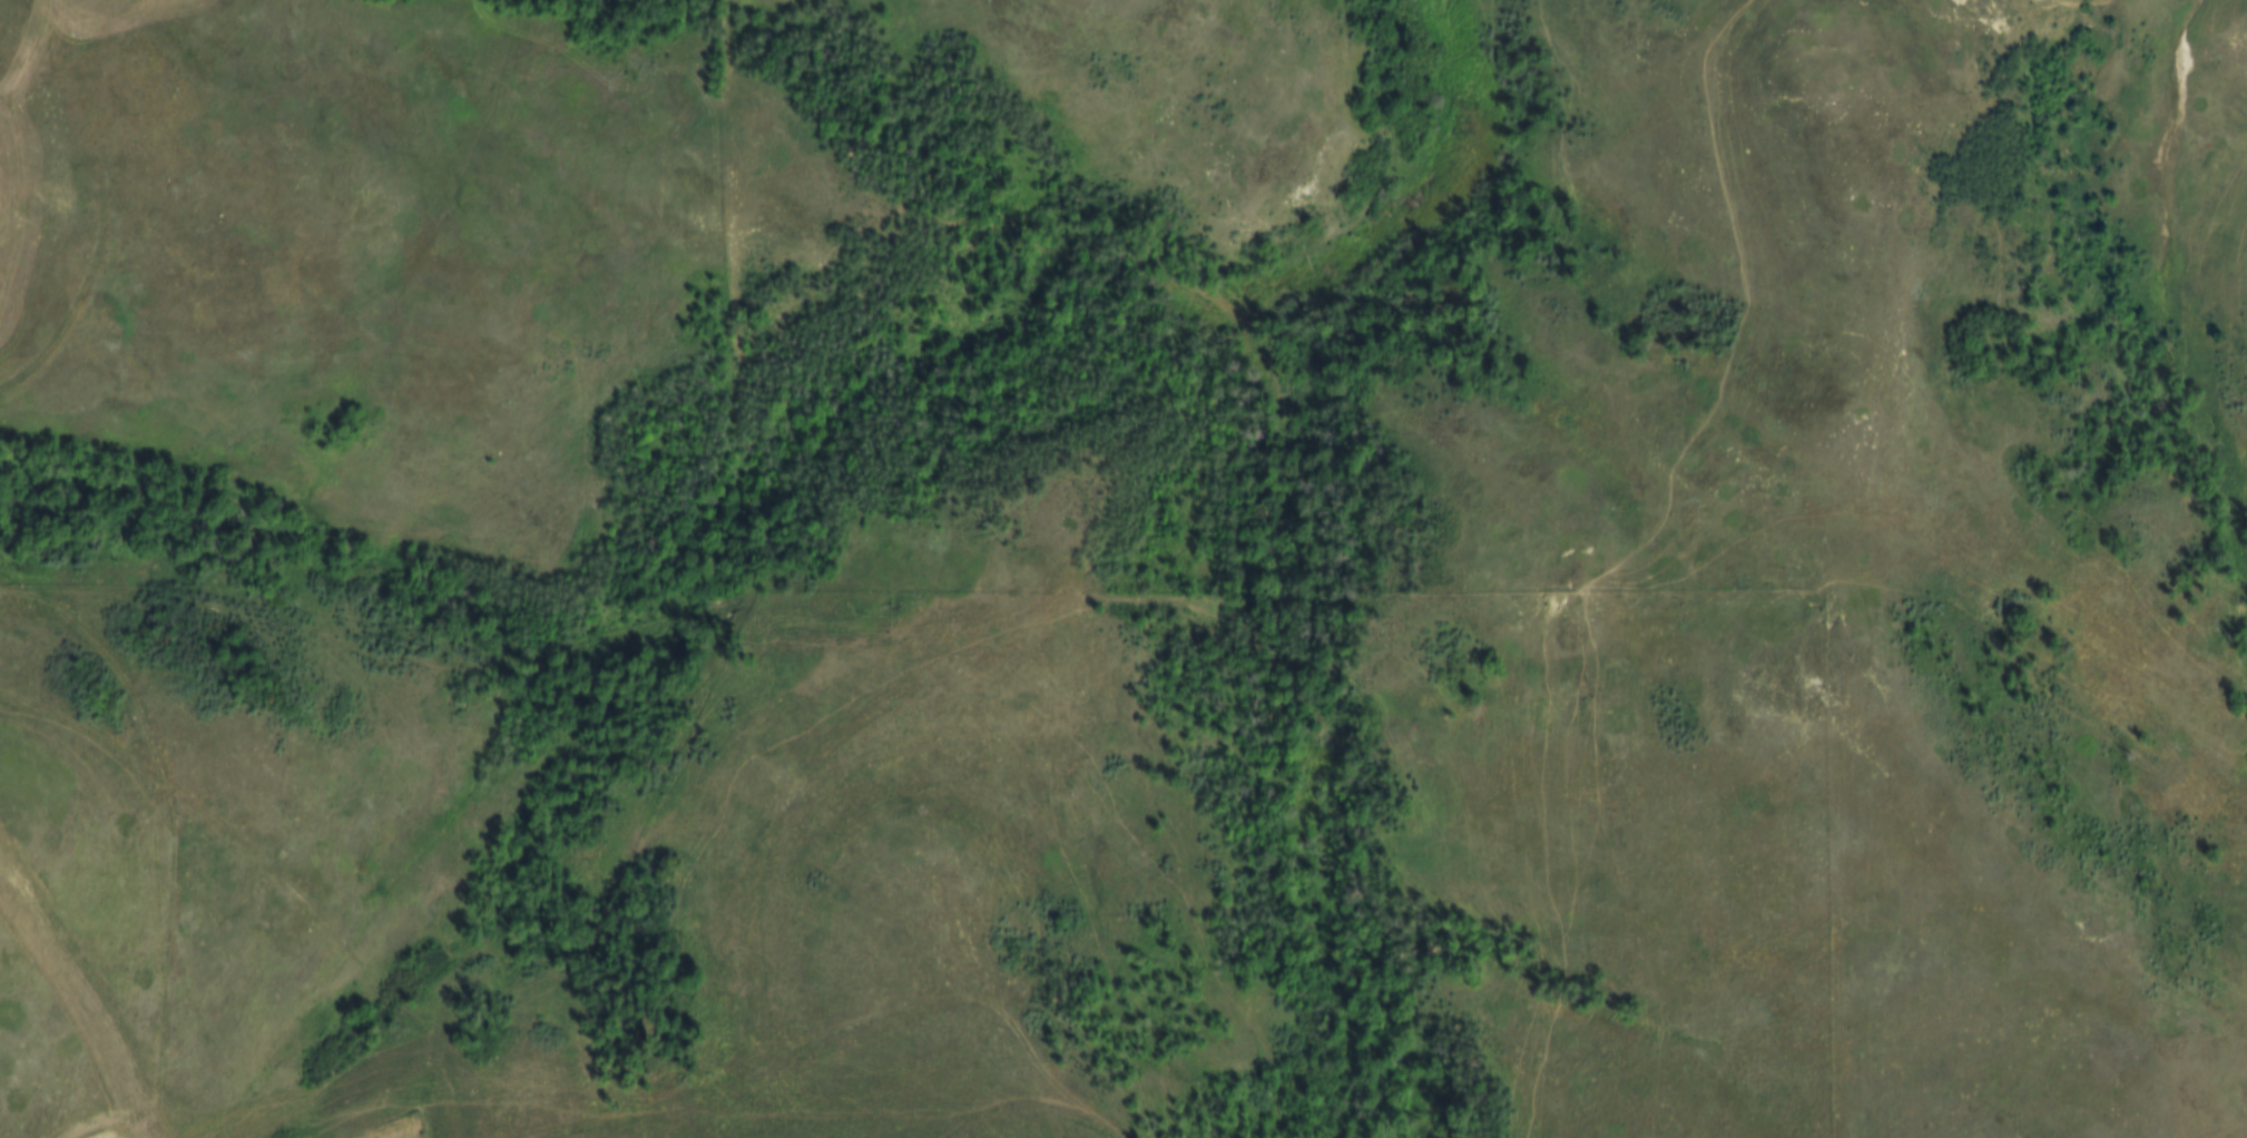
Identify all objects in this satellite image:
road: (100, 207)

